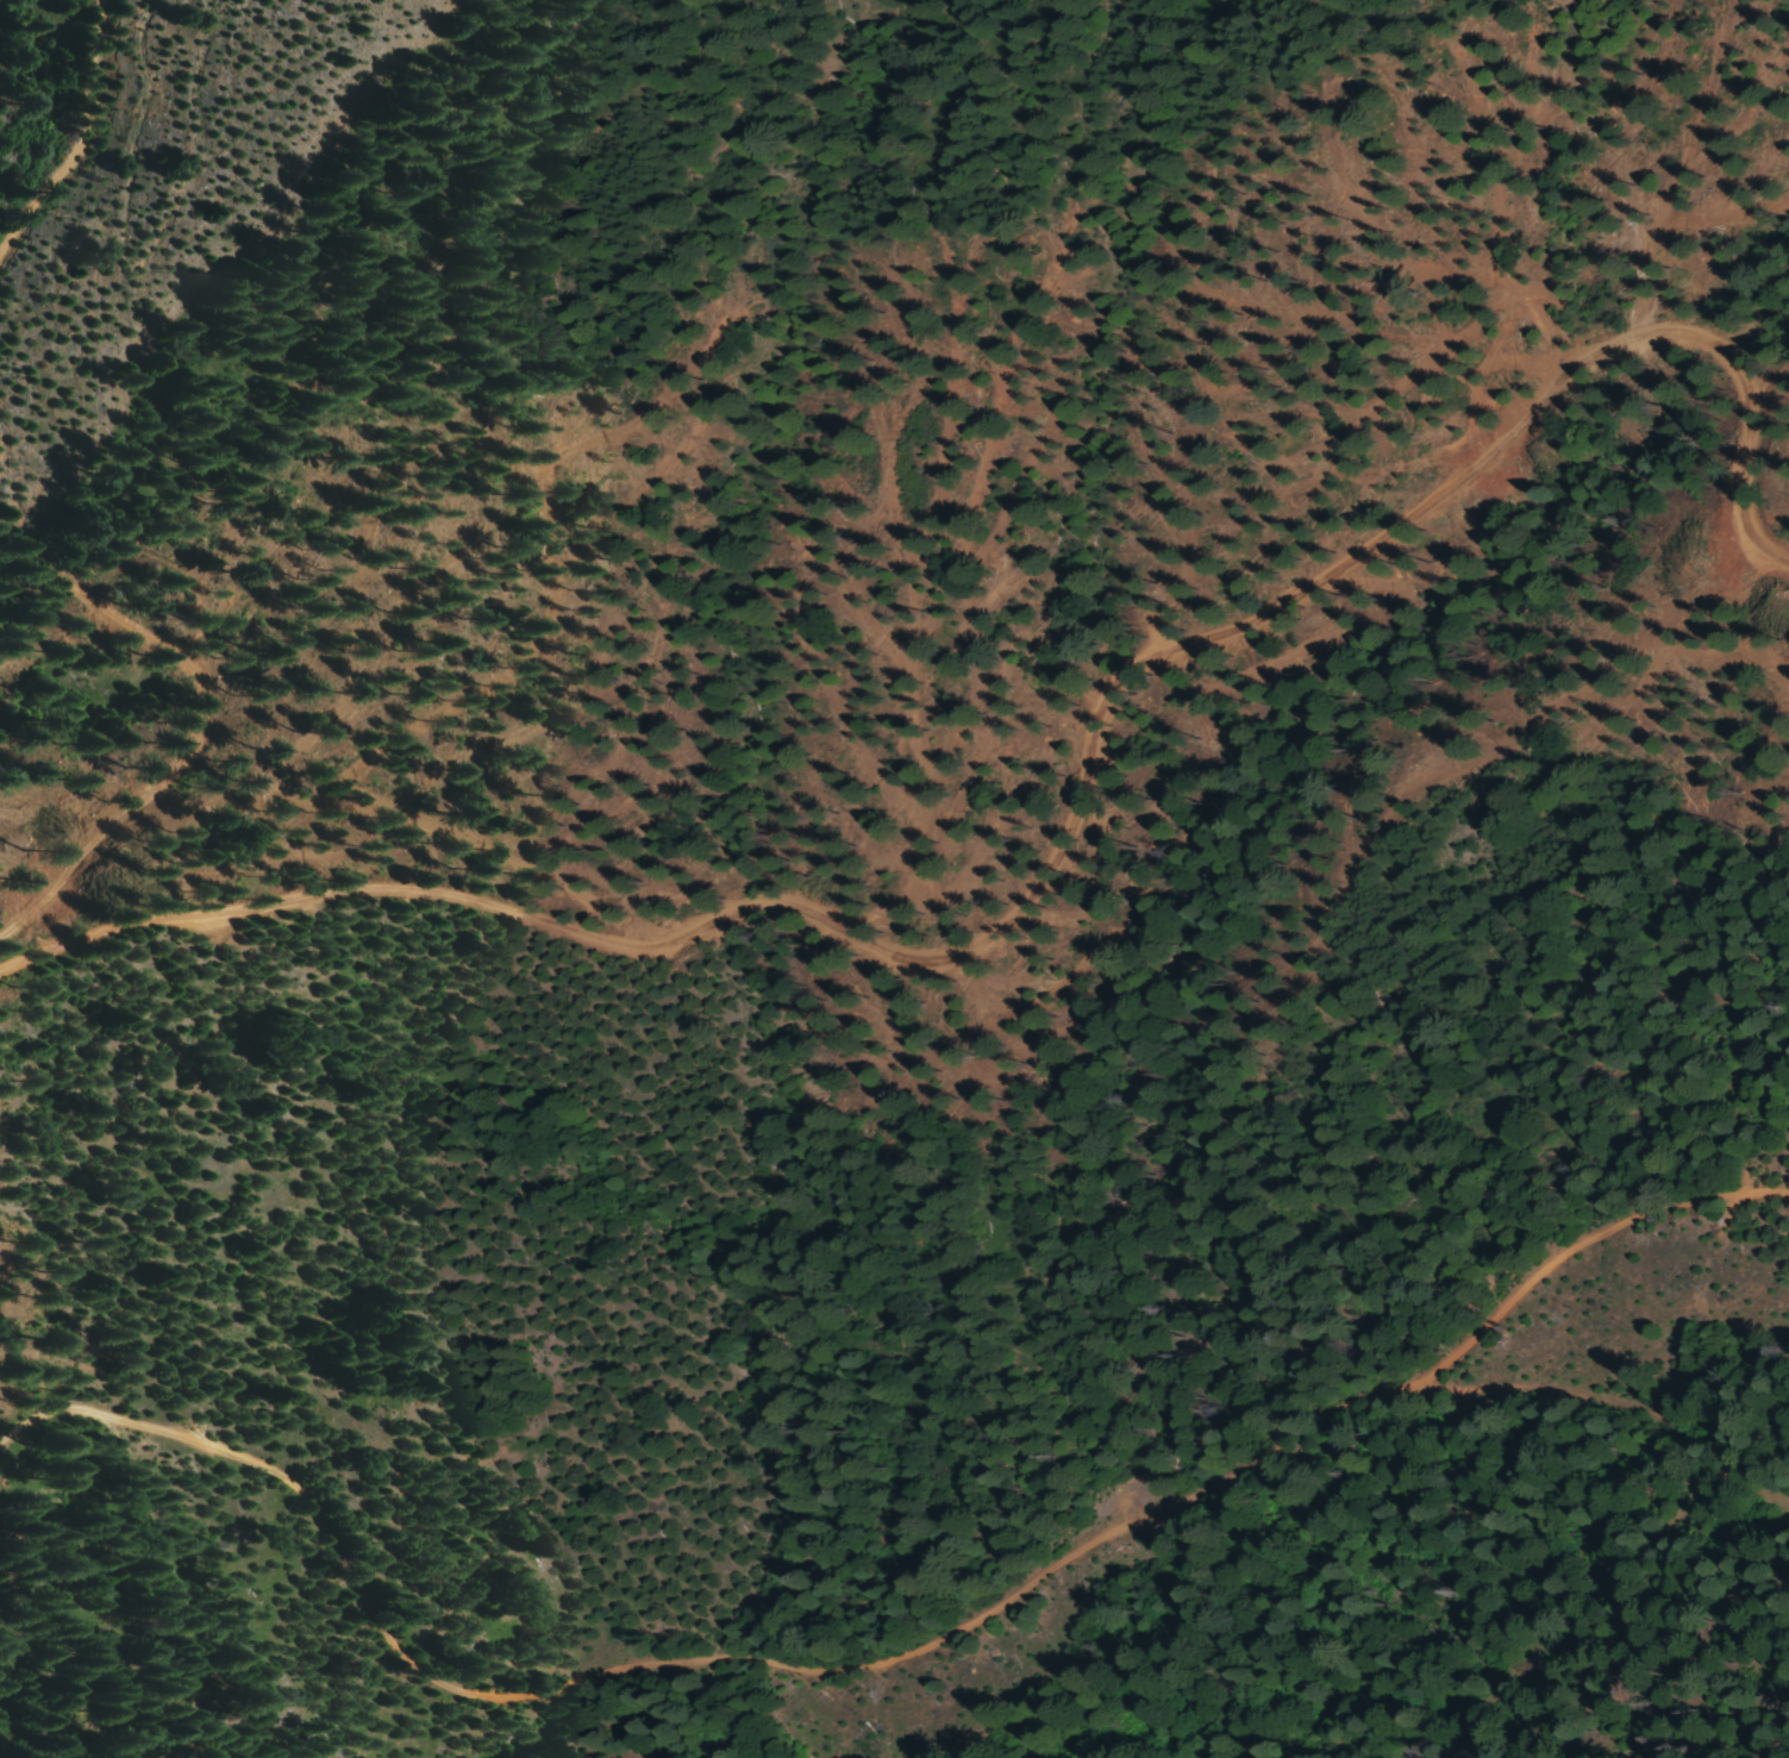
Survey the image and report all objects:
road: (75, 132)
road: (211, 728)
road: (1065, 830)
road: (14, 964)
road: (1589, 1384)
road: (1484, 1595)
road: (906, 1665)
road: (406, 1713)

